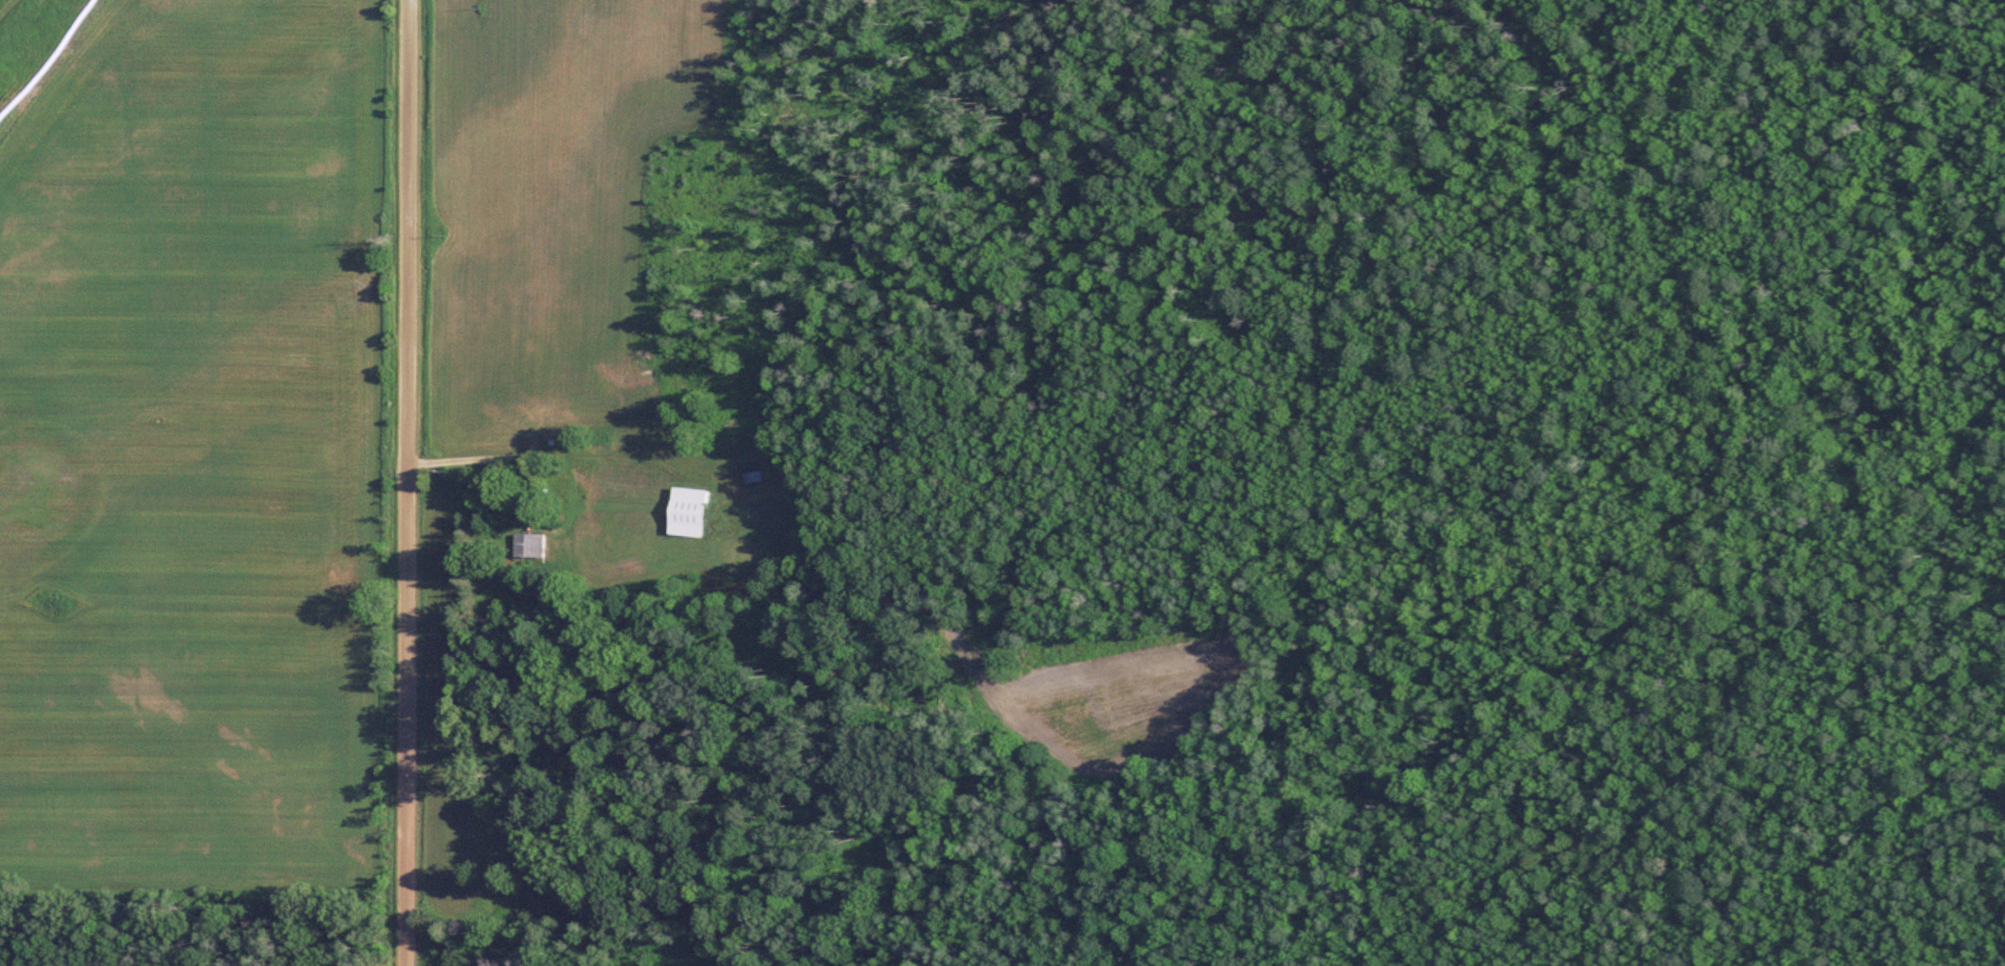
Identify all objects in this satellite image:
building: (758, 474)
road: (411, 483)
building: (696, 511)
building: (536, 545)

